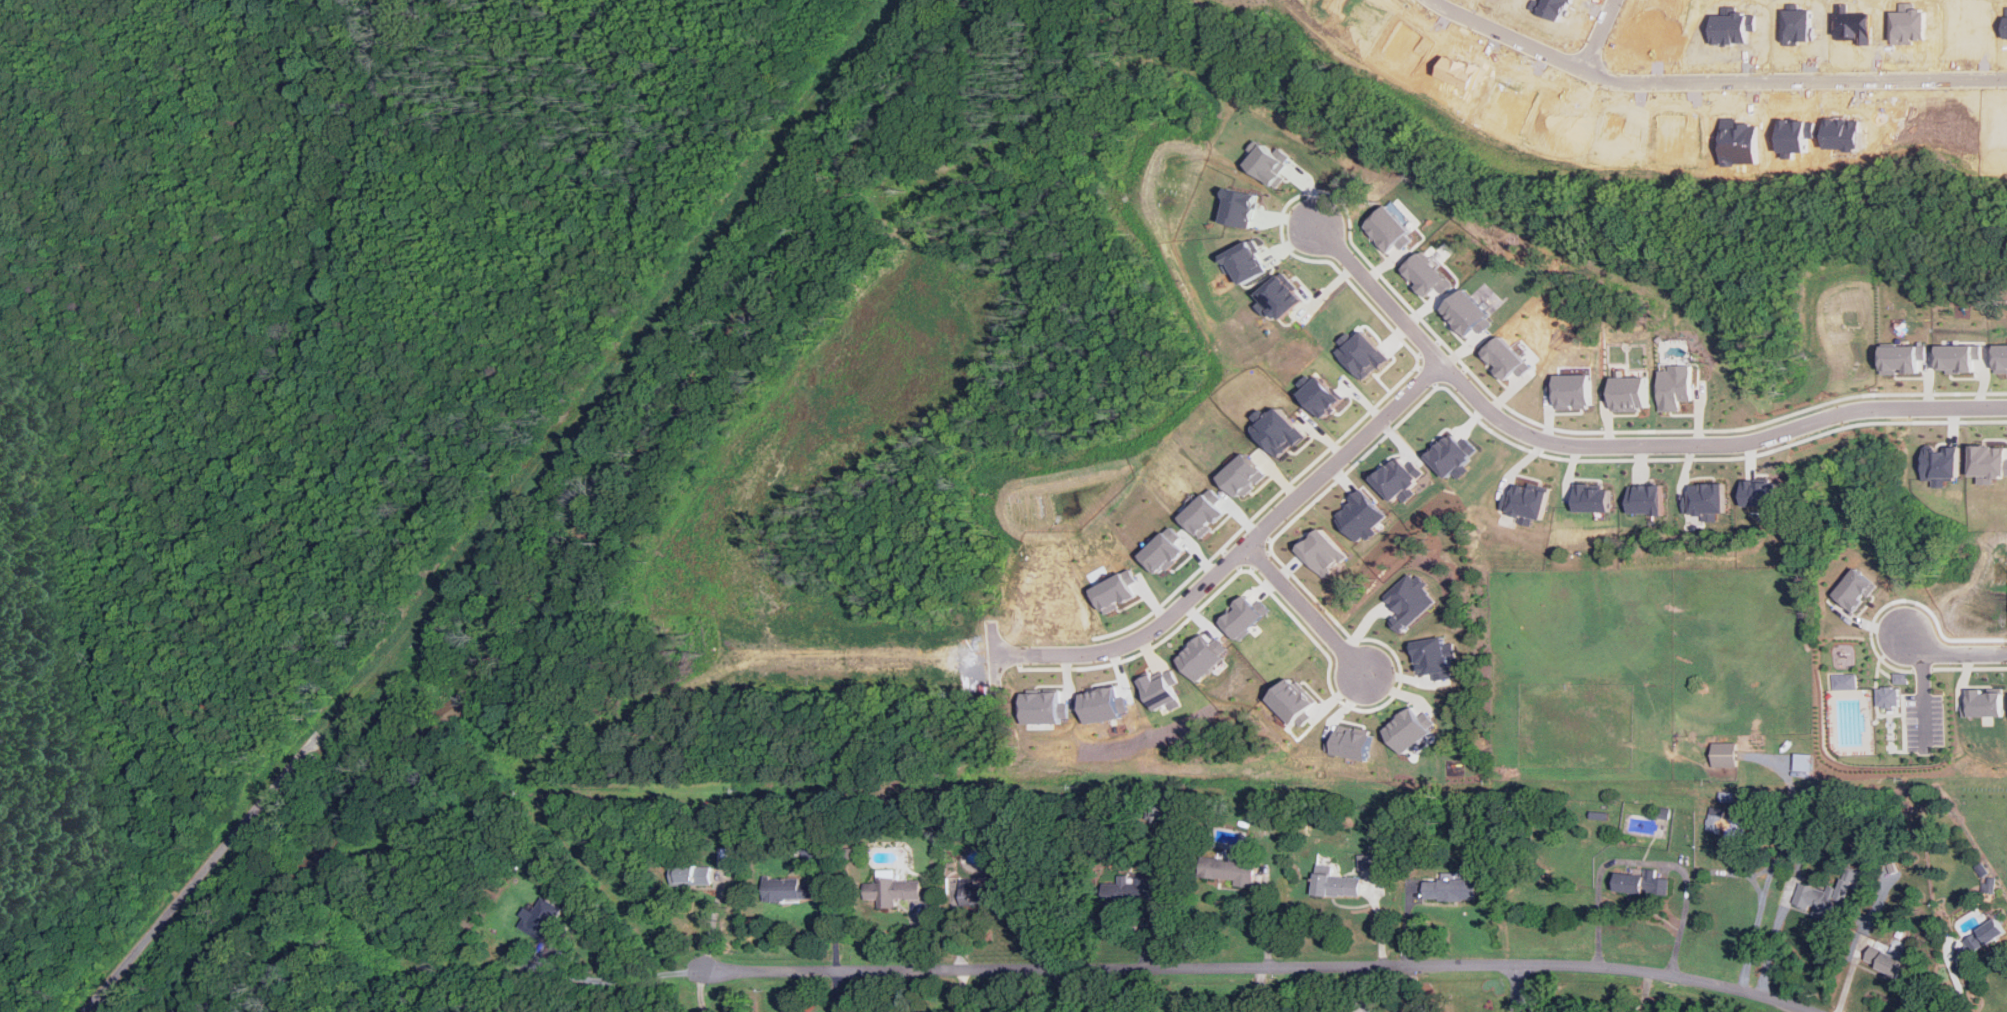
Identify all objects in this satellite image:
road: (1598, 34)
road: (1710, 82)
building: (1270, 161)
building: (1242, 207)
building: (1391, 229)
building: (1248, 262)
building: (1428, 275)
building: (1281, 297)
building: (1468, 313)
building: (1363, 353)
building: (1902, 357)
building: (1958, 357)
building: (1505, 358)
building: (2001, 358)
building: (1676, 386)
building: (1572, 390)
building: (1320, 393)
building: (1631, 393)
building: (1280, 430)
road: (1624, 445)
building: (1452, 455)
building: (1942, 462)
building: (1989, 462)
building: (1246, 475)
building: (1398, 479)
building: (1763, 494)
building: (1593, 497)
building: (1648, 499)
building: (1707, 500)
building: (1525, 502)
building: (1207, 512)
building: (1360, 516)
building: (1166, 550)
building: (1322, 552)
road: (1250, 554)
building: (1856, 589)
building: (1118, 591)
building: (1409, 599)
road: (1314, 614)
building: (1245, 615)
road: (1958, 652)
building: (1202, 656)
building: (1433, 657)
building: (1898, 678)
building: (1843, 681)
building: (1161, 692)
building: (1886, 696)
building: (1295, 702)
building: (1984, 702)
building: (1102, 704)
building: (1044, 707)
building: (1412, 732)
building: (1352, 743)
building: (1725, 754)
building: (1803, 764)
building: (1716, 818)
road: (1645, 860)
building: (1368, 861)
building: (1231, 870)
building: (693, 877)
building: (1643, 883)
building: (1343, 884)
road: (190, 887)
building: (1455, 887)
building: (786, 888)
building: (1129, 892)
building: (894, 893)
building: (982, 893)
building: (1827, 899)
building: (548, 920)
road: (713, 923)
road: (1774, 935)
building: (1987, 935)
building: (1888, 960)
road: (1253, 968)
road: (677, 971)
road: (661, 974)
road: (603, 980)
road: (1516, 988)
road: (1065, 990)
road: (917, 991)

